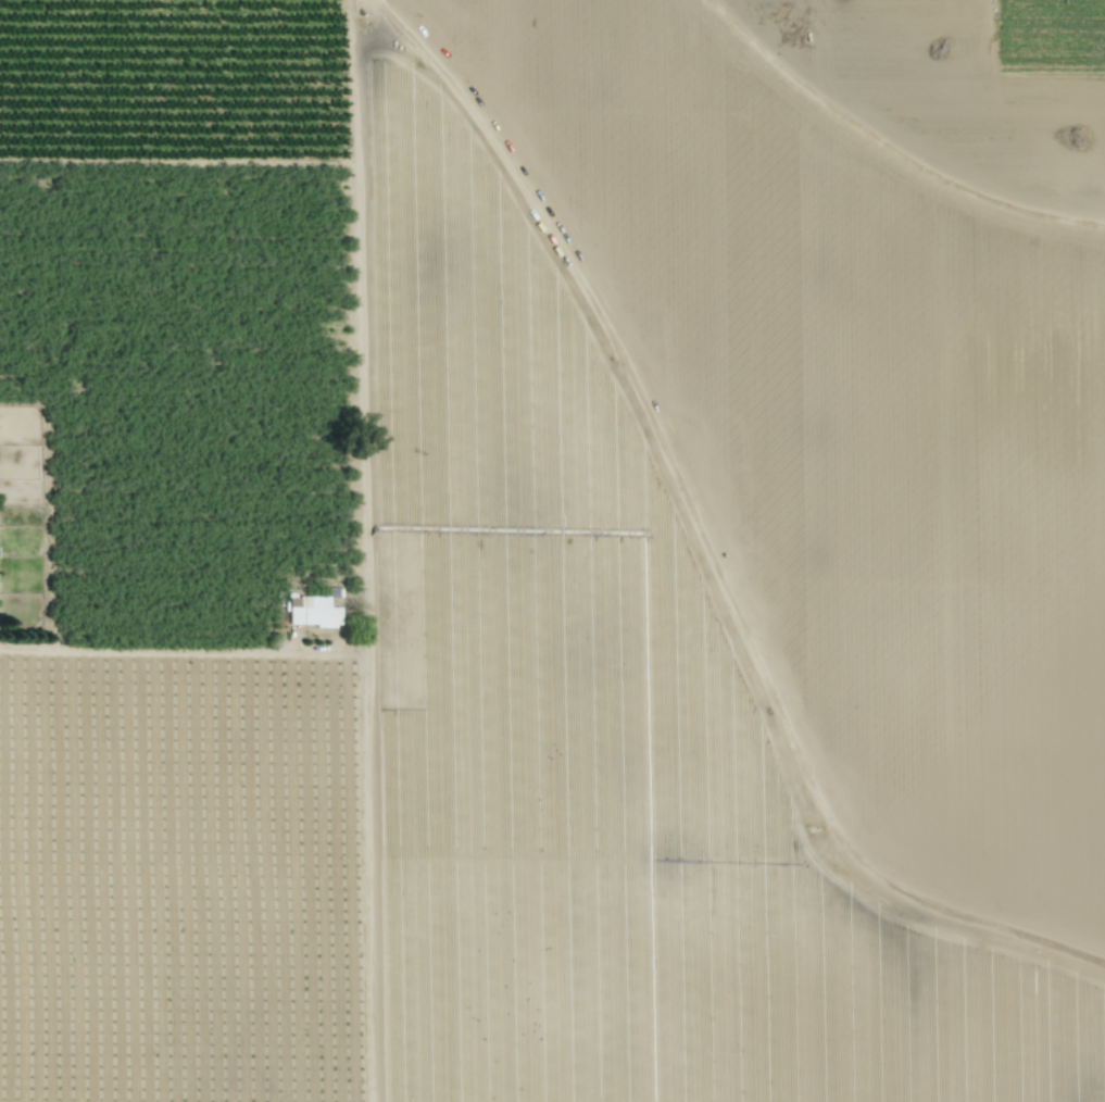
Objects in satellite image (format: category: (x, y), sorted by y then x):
road: (699, 540)
road: (369, 550)
building: (313, 612)
road: (186, 652)

